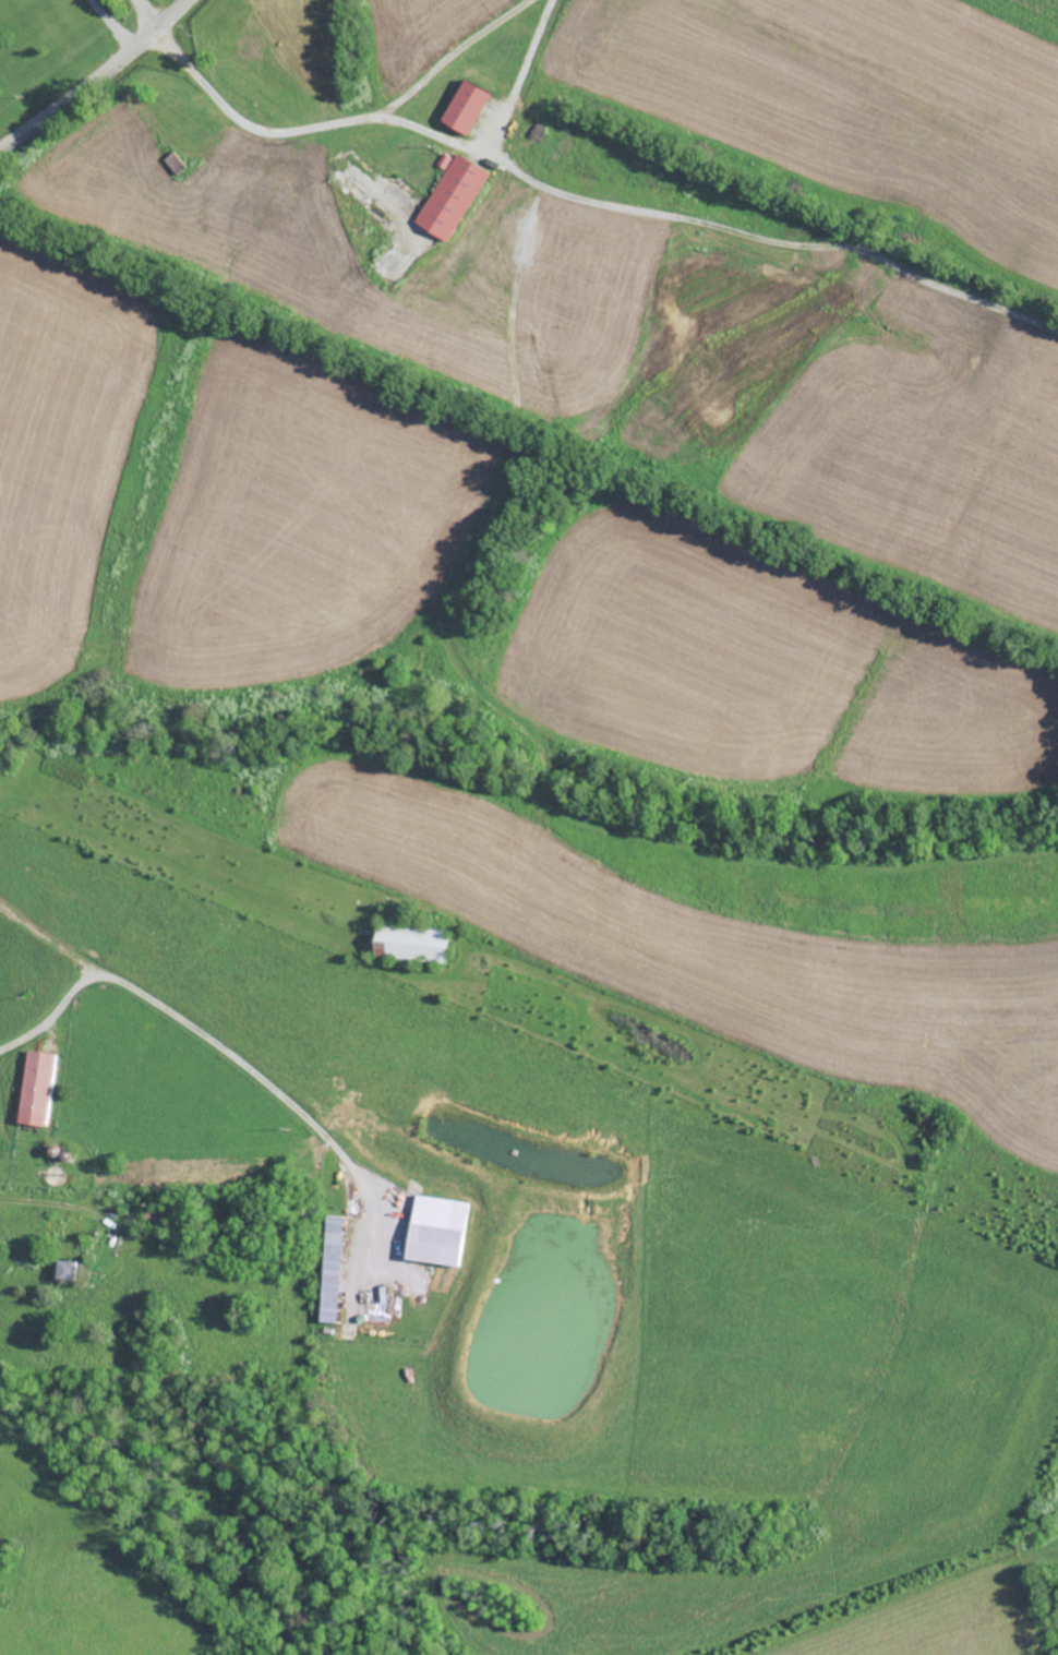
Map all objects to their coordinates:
road: (154, 12)
road: (111, 26)
road: (98, 81)
building: (467, 106)
road: (446, 139)
building: (453, 196)
road: (182, 1021)
building: (36, 1088)
building: (437, 1231)
building: (333, 1270)
building: (68, 1271)

